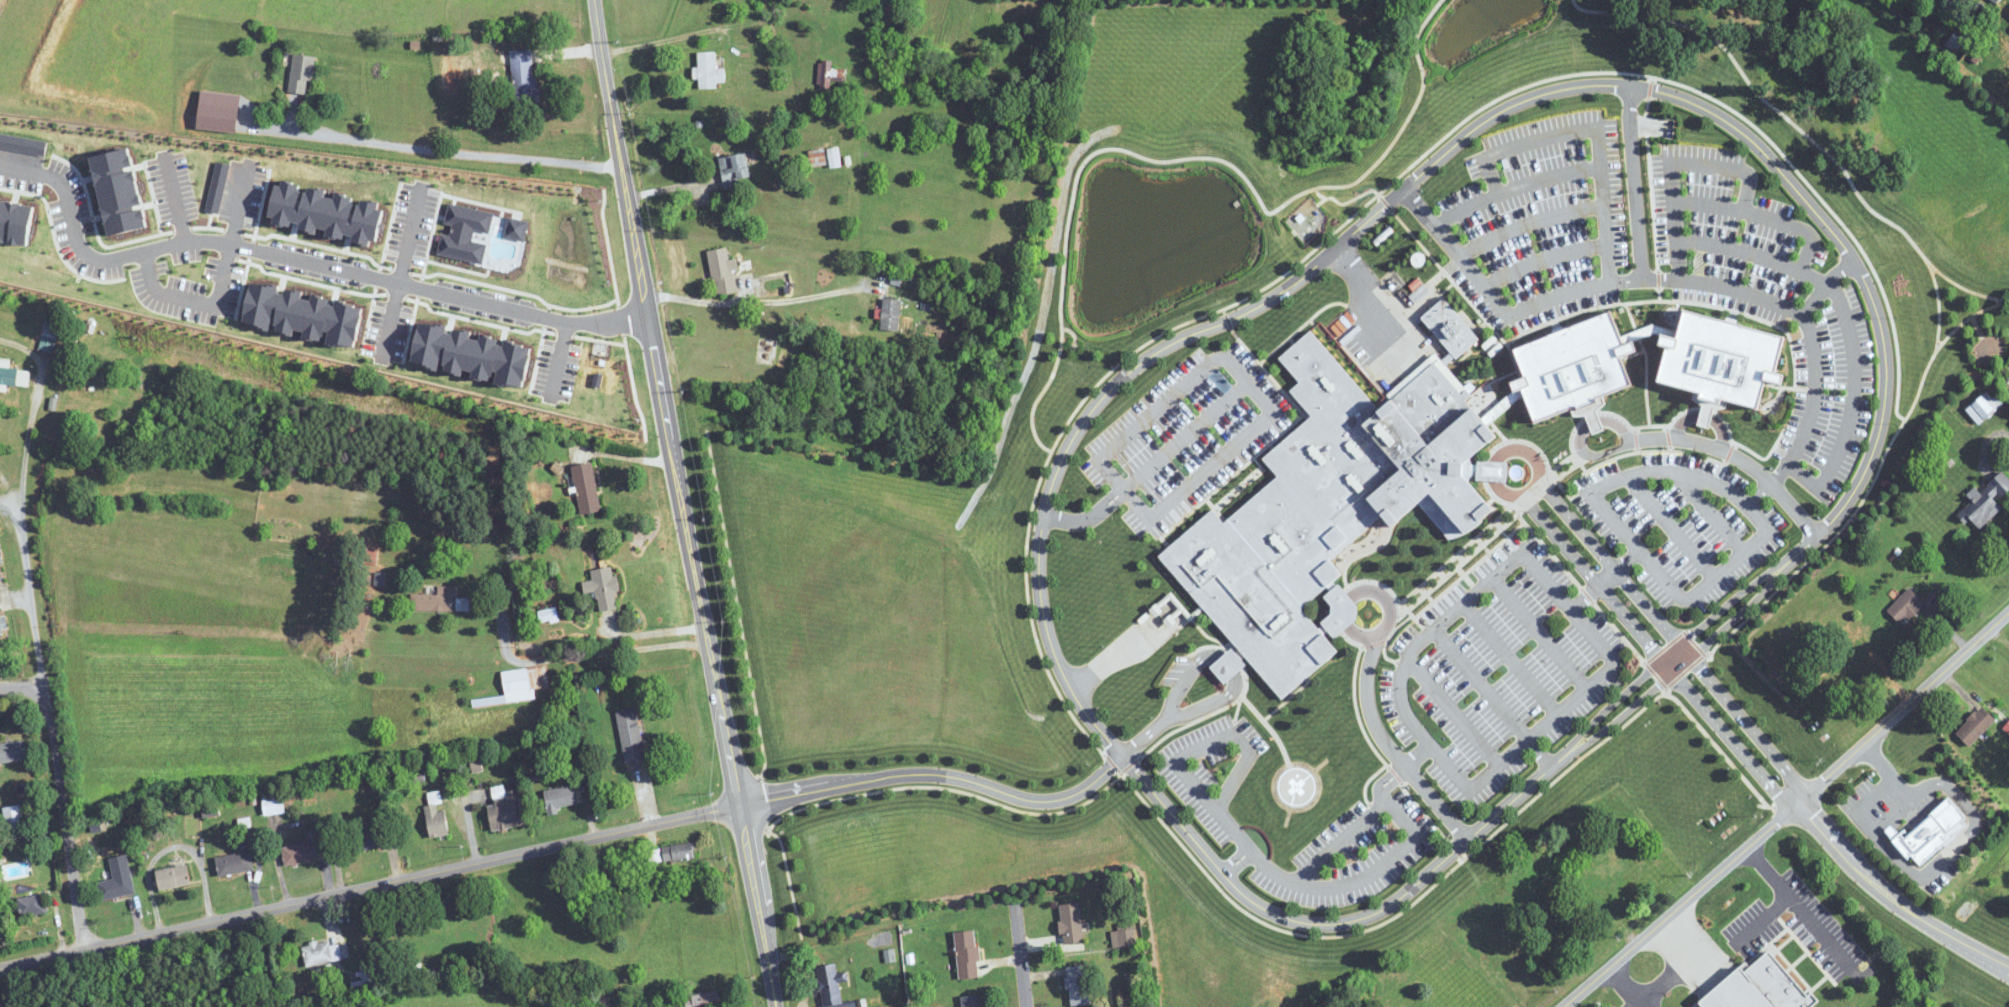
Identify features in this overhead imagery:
building: (1995, 1)
building: (767, 3)
building: (892, 12)
road: (656, 41)
building: (709, 70)
building: (301, 74)
building: (445, 74)
building: (825, 74)
building: (523, 75)
road: (1720, 102)
road: (1539, 139)
road: (453, 151)
road: (1686, 162)
building: (734, 169)
road: (1532, 181)
road: (173, 198)
road: (1636, 200)
road: (1342, 203)
road: (1389, 210)
road: (1567, 210)
road: (1763, 214)
parking lot: (1540, 219)
building: (18, 221)
road: (1066, 229)
parking lot: (1728, 232)
road: (1736, 248)
road: (1455, 250)
road: (1542, 257)
road: (299, 260)
building: (723, 271)
road: (402, 273)
road: (1625, 280)
road: (220, 286)
road: (1965, 287)
road: (1825, 288)
road: (1363, 290)
road: (1557, 298)
road: (694, 300)
building: (891, 313)
road: (1967, 319)
road: (650, 321)
building: (51, 324)
building: (1450, 326)
road: (1808, 329)
road: (1196, 332)
road: (559, 356)
building: (13, 376)
road: (40, 391)
building: (600, 394)
parking lot: (1829, 394)
building: (89, 397)
road: (1852, 406)
road: (1157, 407)
building: (1984, 407)
road: (1704, 413)
road: (1185, 435)
parking lot: (1186, 436)
road: (1671, 440)
road: (1528, 451)
road: (1210, 467)
road: (1492, 469)
building: (1408, 471)
road: (1767, 486)
building: (586, 487)
building: (1985, 500)
road: (1707, 510)
road: (1087, 517)
parking lot: (1677, 524)
road: (1669, 526)
road: (1840, 527)
road: (1750, 545)
building: (0, 558)
road: (1603, 580)
building: (603, 587)
building: (434, 600)
building: (1906, 605)
building: (3, 628)
road: (656, 631)
road: (1538, 633)
road: (1692, 634)
road: (1702, 645)
road: (578, 655)
road: (1114, 656)
road: (1510, 657)
building: (1847, 659)
parking lot: (1496, 670)
road: (1365, 679)
road: (1480, 683)
building: (519, 685)
road: (21, 686)
road: (1451, 711)
road: (47, 712)
road: (1274, 723)
building: (1976, 725)
building: (2007, 727)
building: (631, 737)
road: (1216, 740)
building: (12, 751)
road: (1539, 753)
parking lot: (1210, 768)
road: (1398, 771)
road: (1476, 784)
helipad: (1296, 787)
road: (1060, 798)
road: (1778, 798)
building: (273, 804)
building: (505, 809)
road: (1784, 810)
building: (13, 818)
building: (437, 821)
road: (740, 825)
road: (1407, 825)
road: (1164, 828)
building: (362, 839)
road: (1246, 851)
building: (305, 852)
building: (678, 852)
parking lot: (1353, 854)
building: (235, 864)
road: (1235, 865)
building: (1603, 866)
building: (173, 877)
building: (117, 880)
road: (368, 887)
road: (1891, 898)
building: (32, 905)
road: (1797, 906)
building: (1547, 908)
road: (1764, 918)
building: (1070, 924)
building: (1505, 936)
road: (1019, 949)
building: (324, 953)
building: (967, 954)
road: (1680, 964)
building: (364, 979)
building: (1078, 985)
building: (830, 986)
road: (1622, 986)
building: (1760, 987)
building: (703, 1000)
building: (973, 1001)

